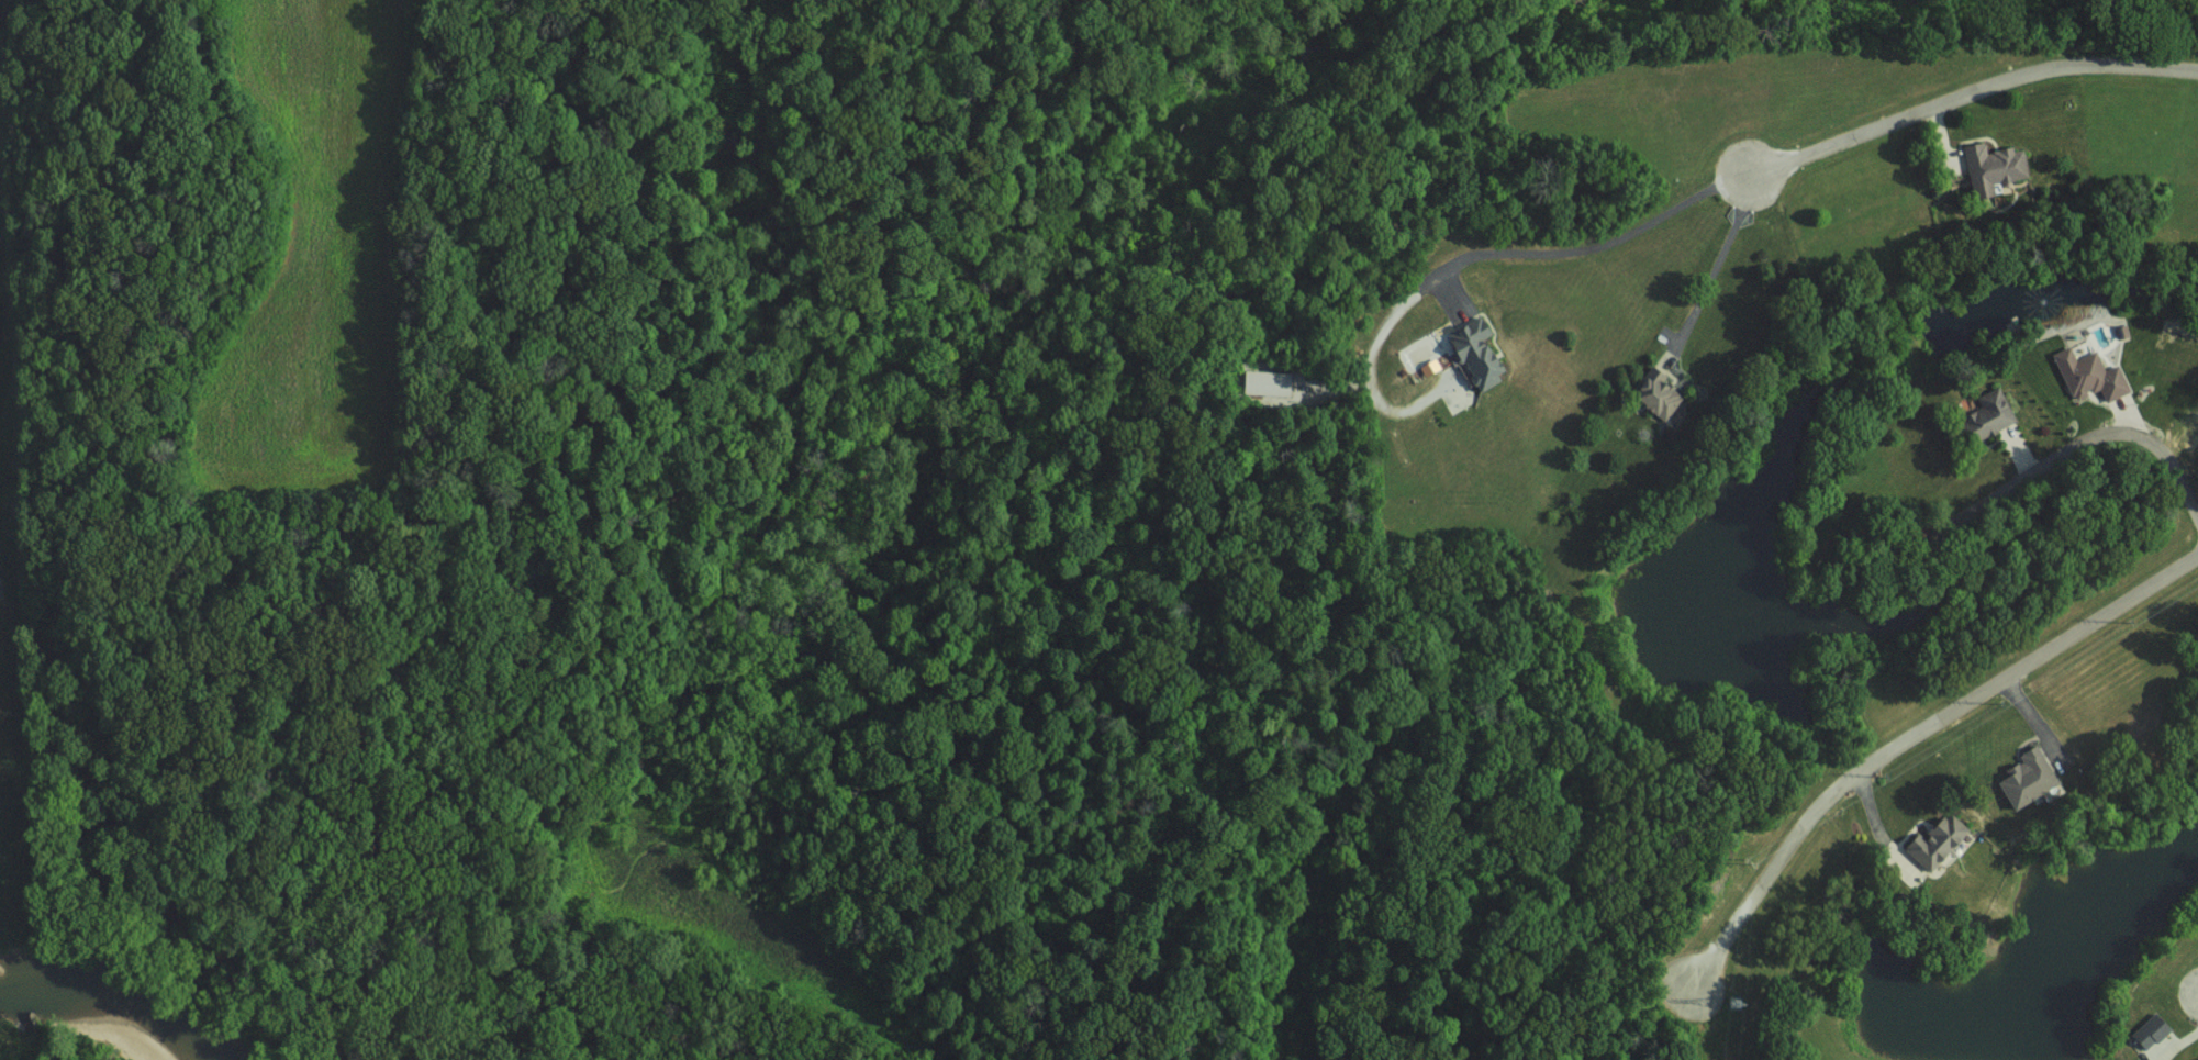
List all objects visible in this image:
road: (1968, 94)
building: (1995, 166)
road: (1582, 248)
road: (1717, 265)
building: (1479, 352)
building: (2091, 375)
building: (1662, 393)
building: (1991, 412)
road: (2143, 435)
road: (2042, 725)
road: (1915, 740)
building: (2031, 778)
road: (1879, 828)
building: (1940, 841)
river: (115, 1008)
building: (2153, 1029)

